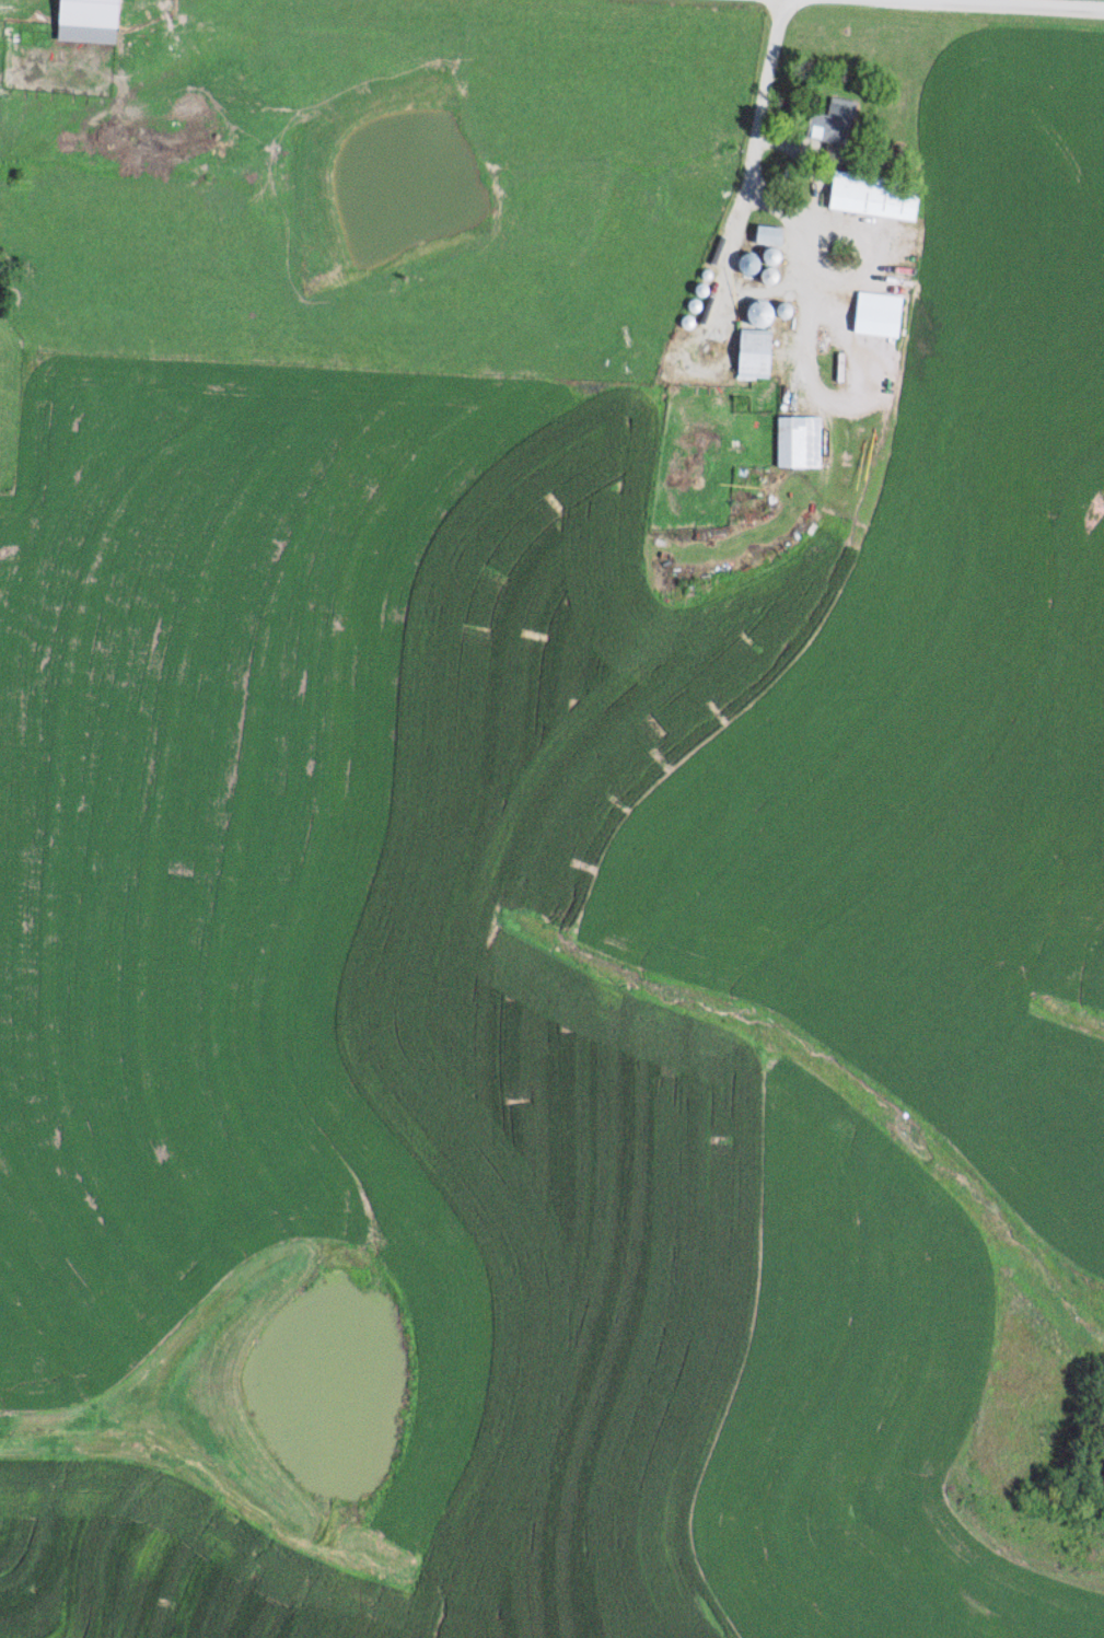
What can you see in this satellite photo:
road: (1035, 3)
building: (823, 128)
road: (778, 143)
building: (867, 196)
building: (762, 236)
building: (751, 315)
building: (746, 355)
building: (792, 442)
road: (435, 554)

